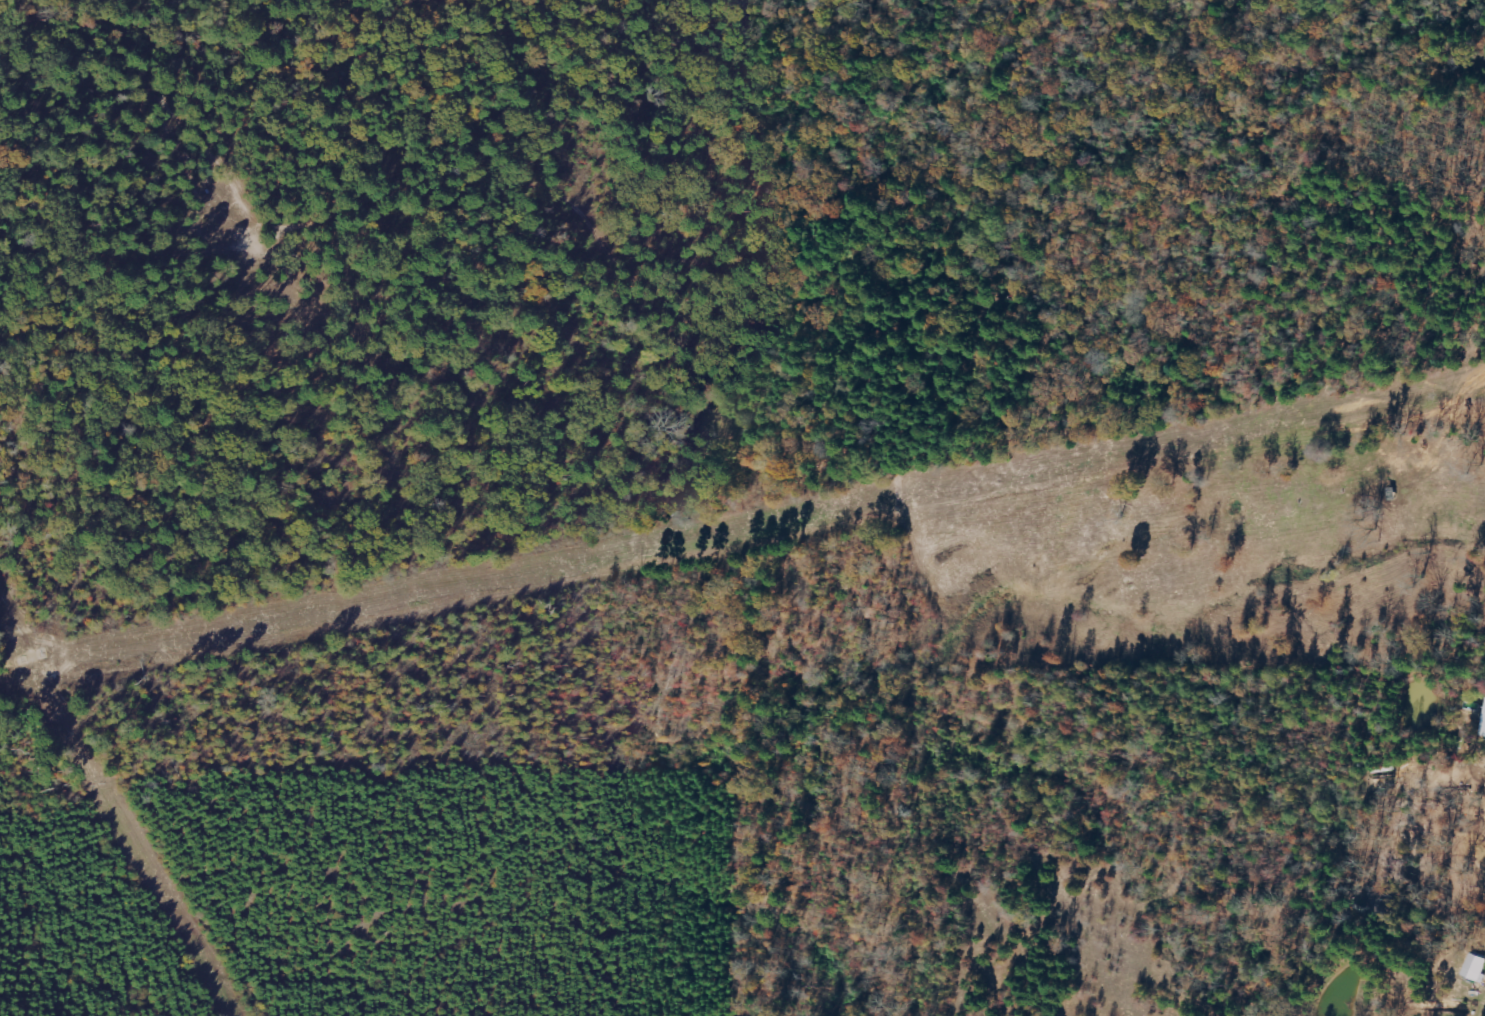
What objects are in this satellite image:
road: (537, 213)
road: (1452, 659)
building: (1484, 729)
building: (1476, 968)

